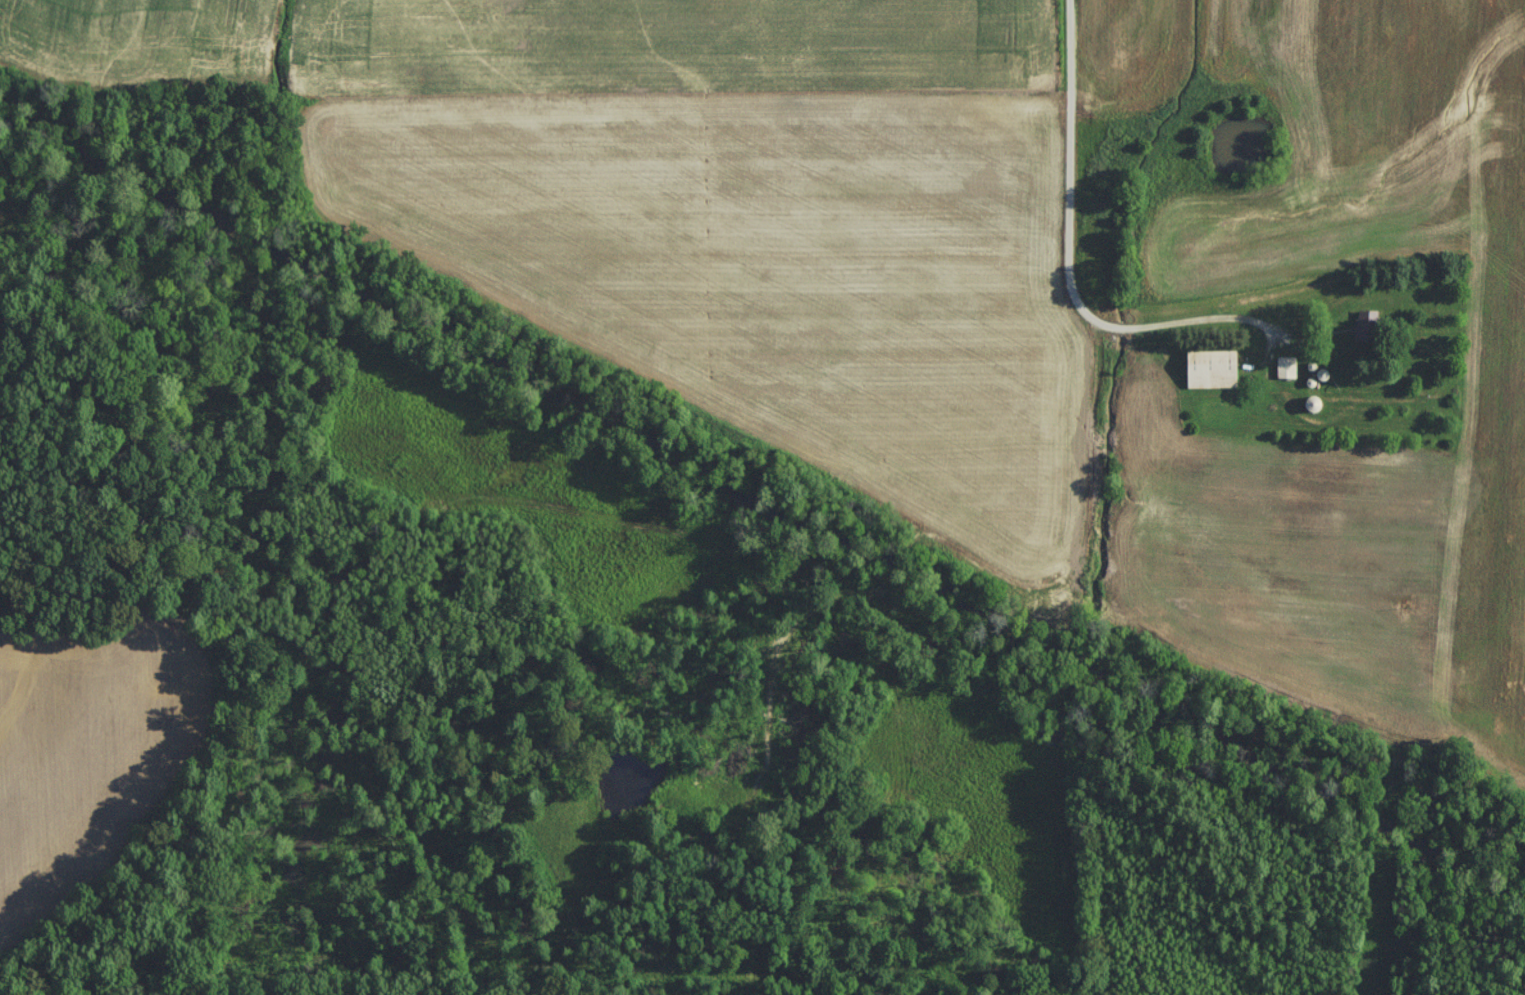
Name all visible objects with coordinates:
road: (1072, 175)
road: (1191, 320)
building: (1285, 371)
building: (1212, 373)
building: (1309, 408)

